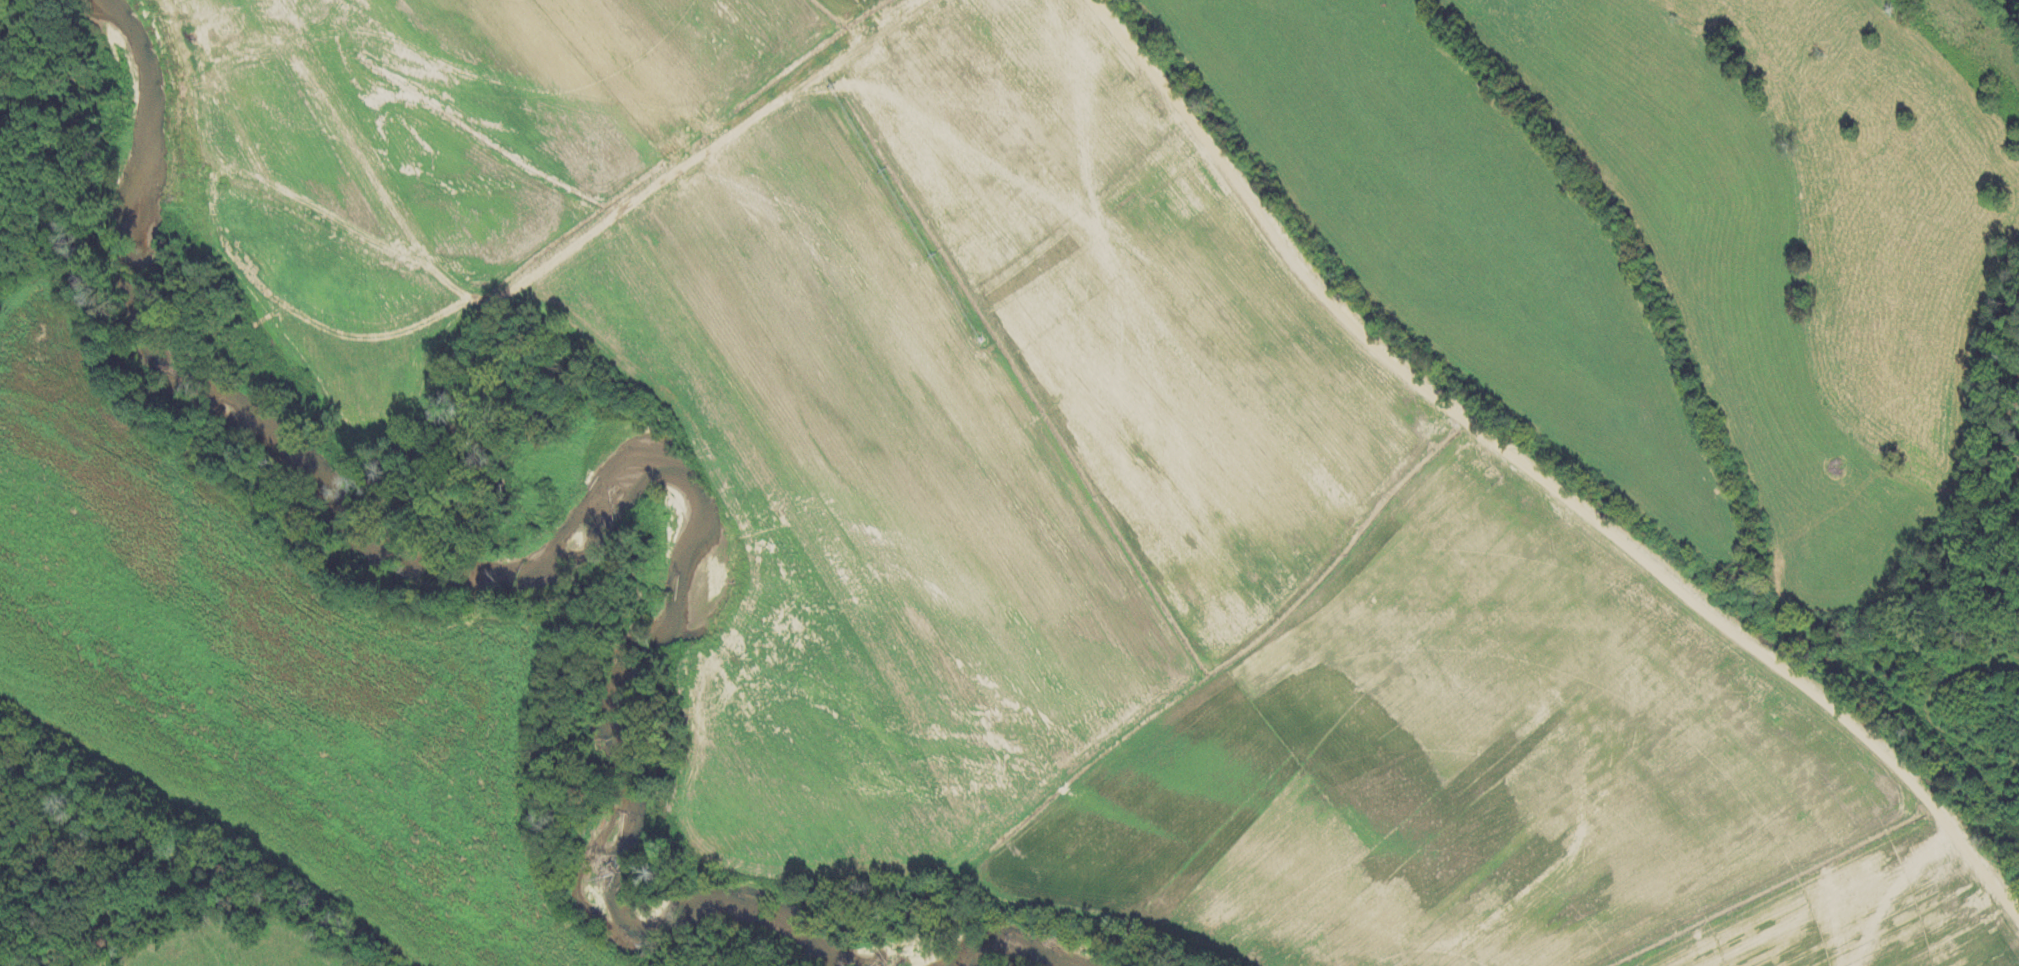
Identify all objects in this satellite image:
building: (2018, 0)
river: (593, 500)
river: (976, 951)

